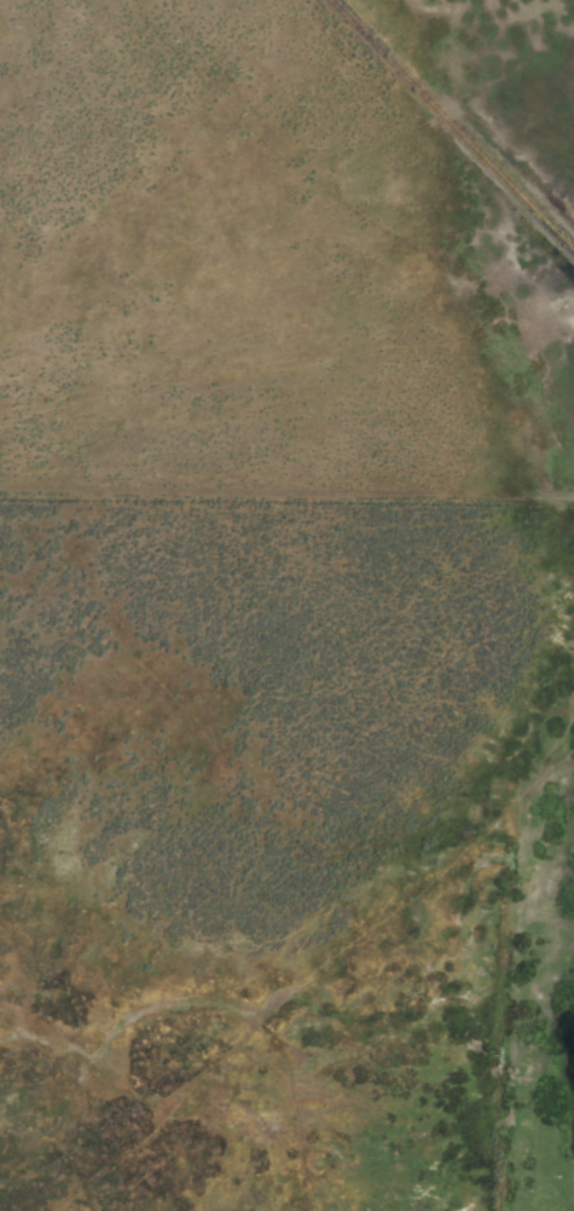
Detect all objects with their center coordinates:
railway: (450, 126)
crop: (286, 605)

